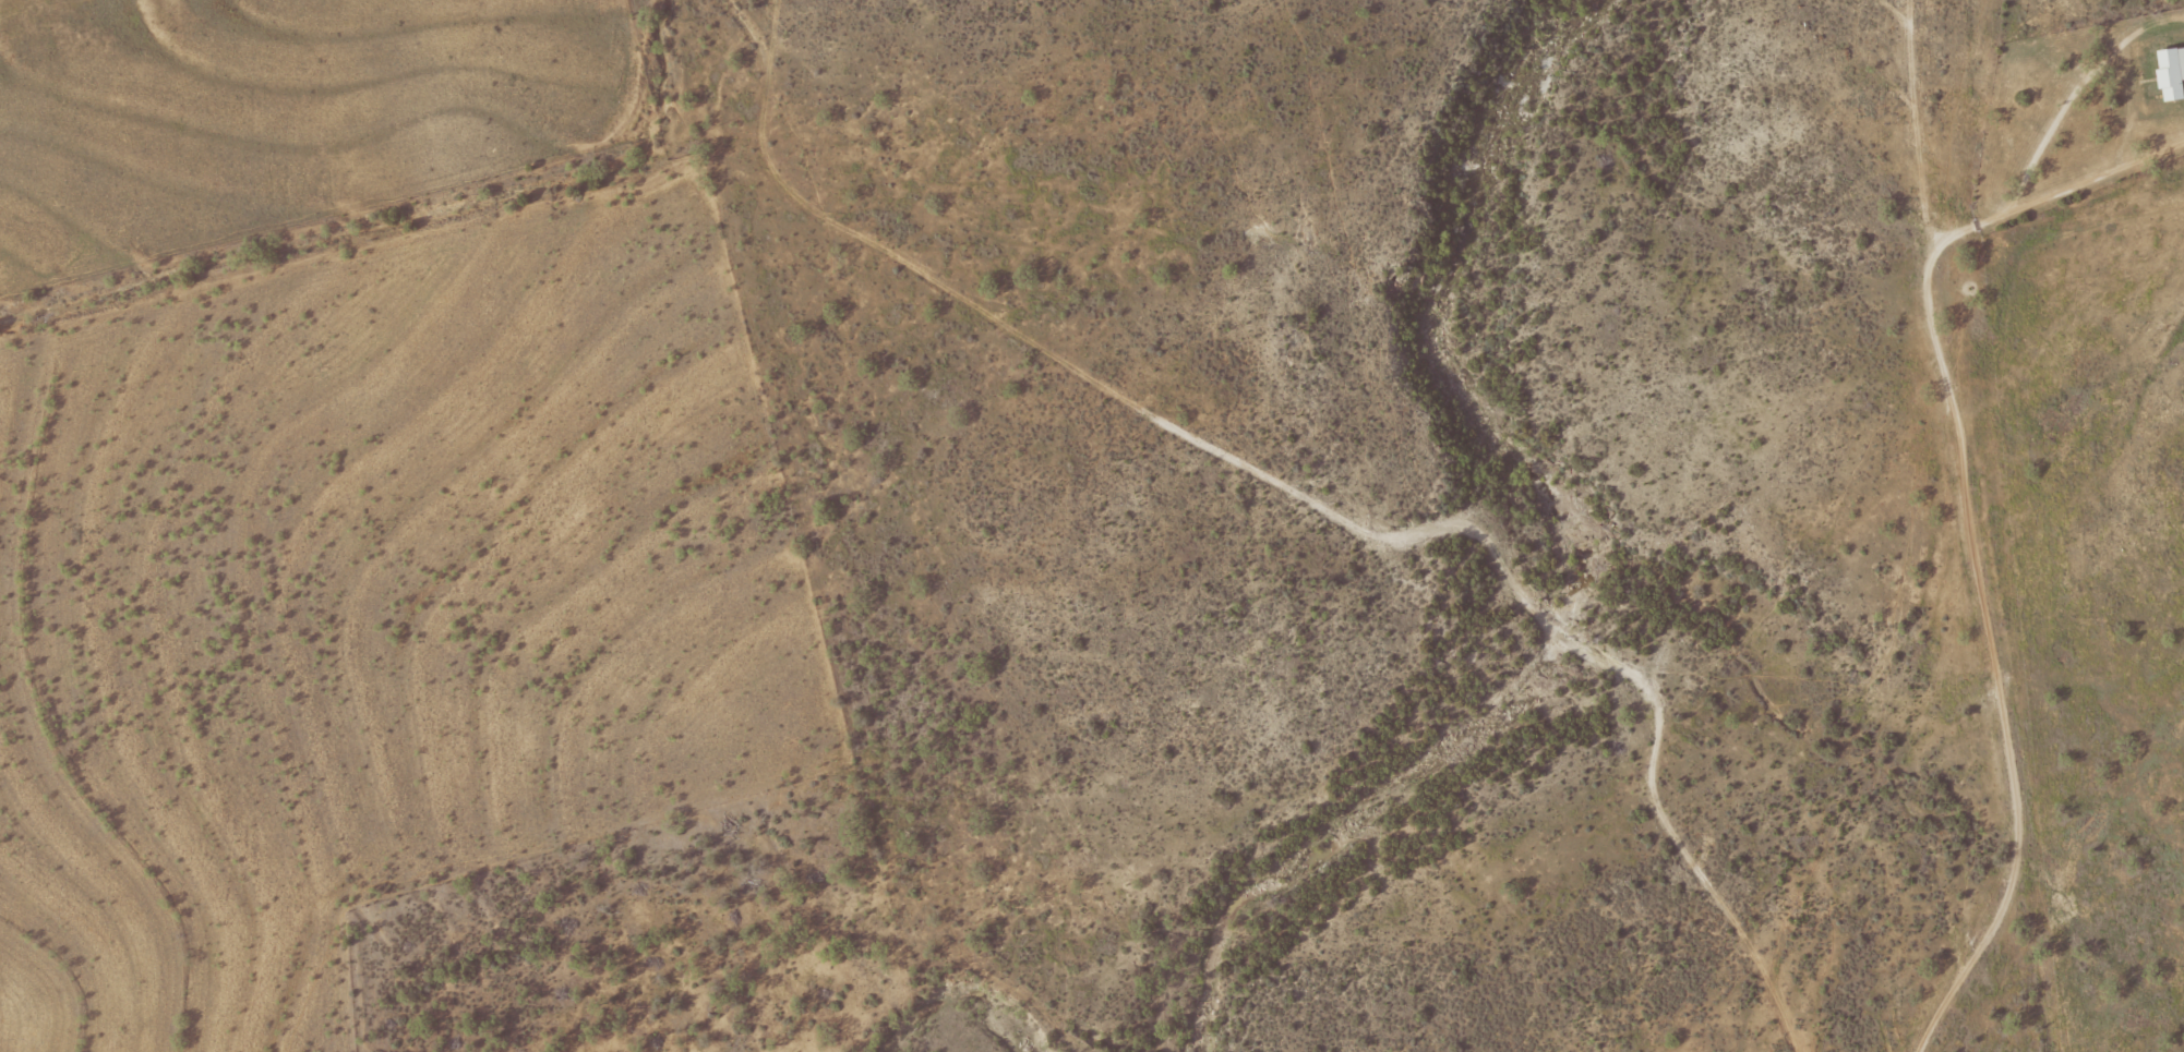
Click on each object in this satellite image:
building: (2170, 71)
road: (2051, 191)
road: (1953, 529)

